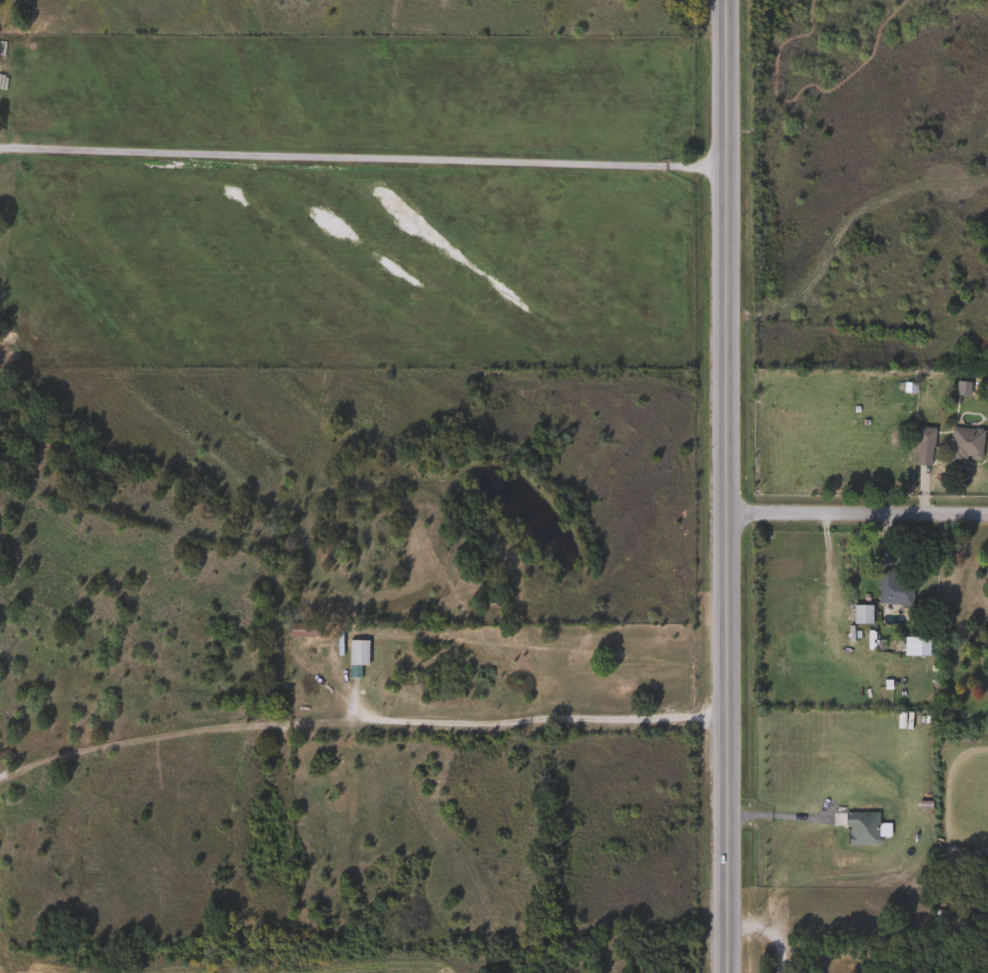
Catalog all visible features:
road: (358, 158)
building: (921, 436)
building: (962, 444)
road: (712, 486)
road: (850, 510)
building: (890, 589)
building: (859, 614)
building: (298, 633)
building: (913, 646)
building: (355, 653)
road: (450, 717)
road: (623, 718)
road: (816, 819)
building: (858, 829)
road: (785, 847)
road: (742, 924)

